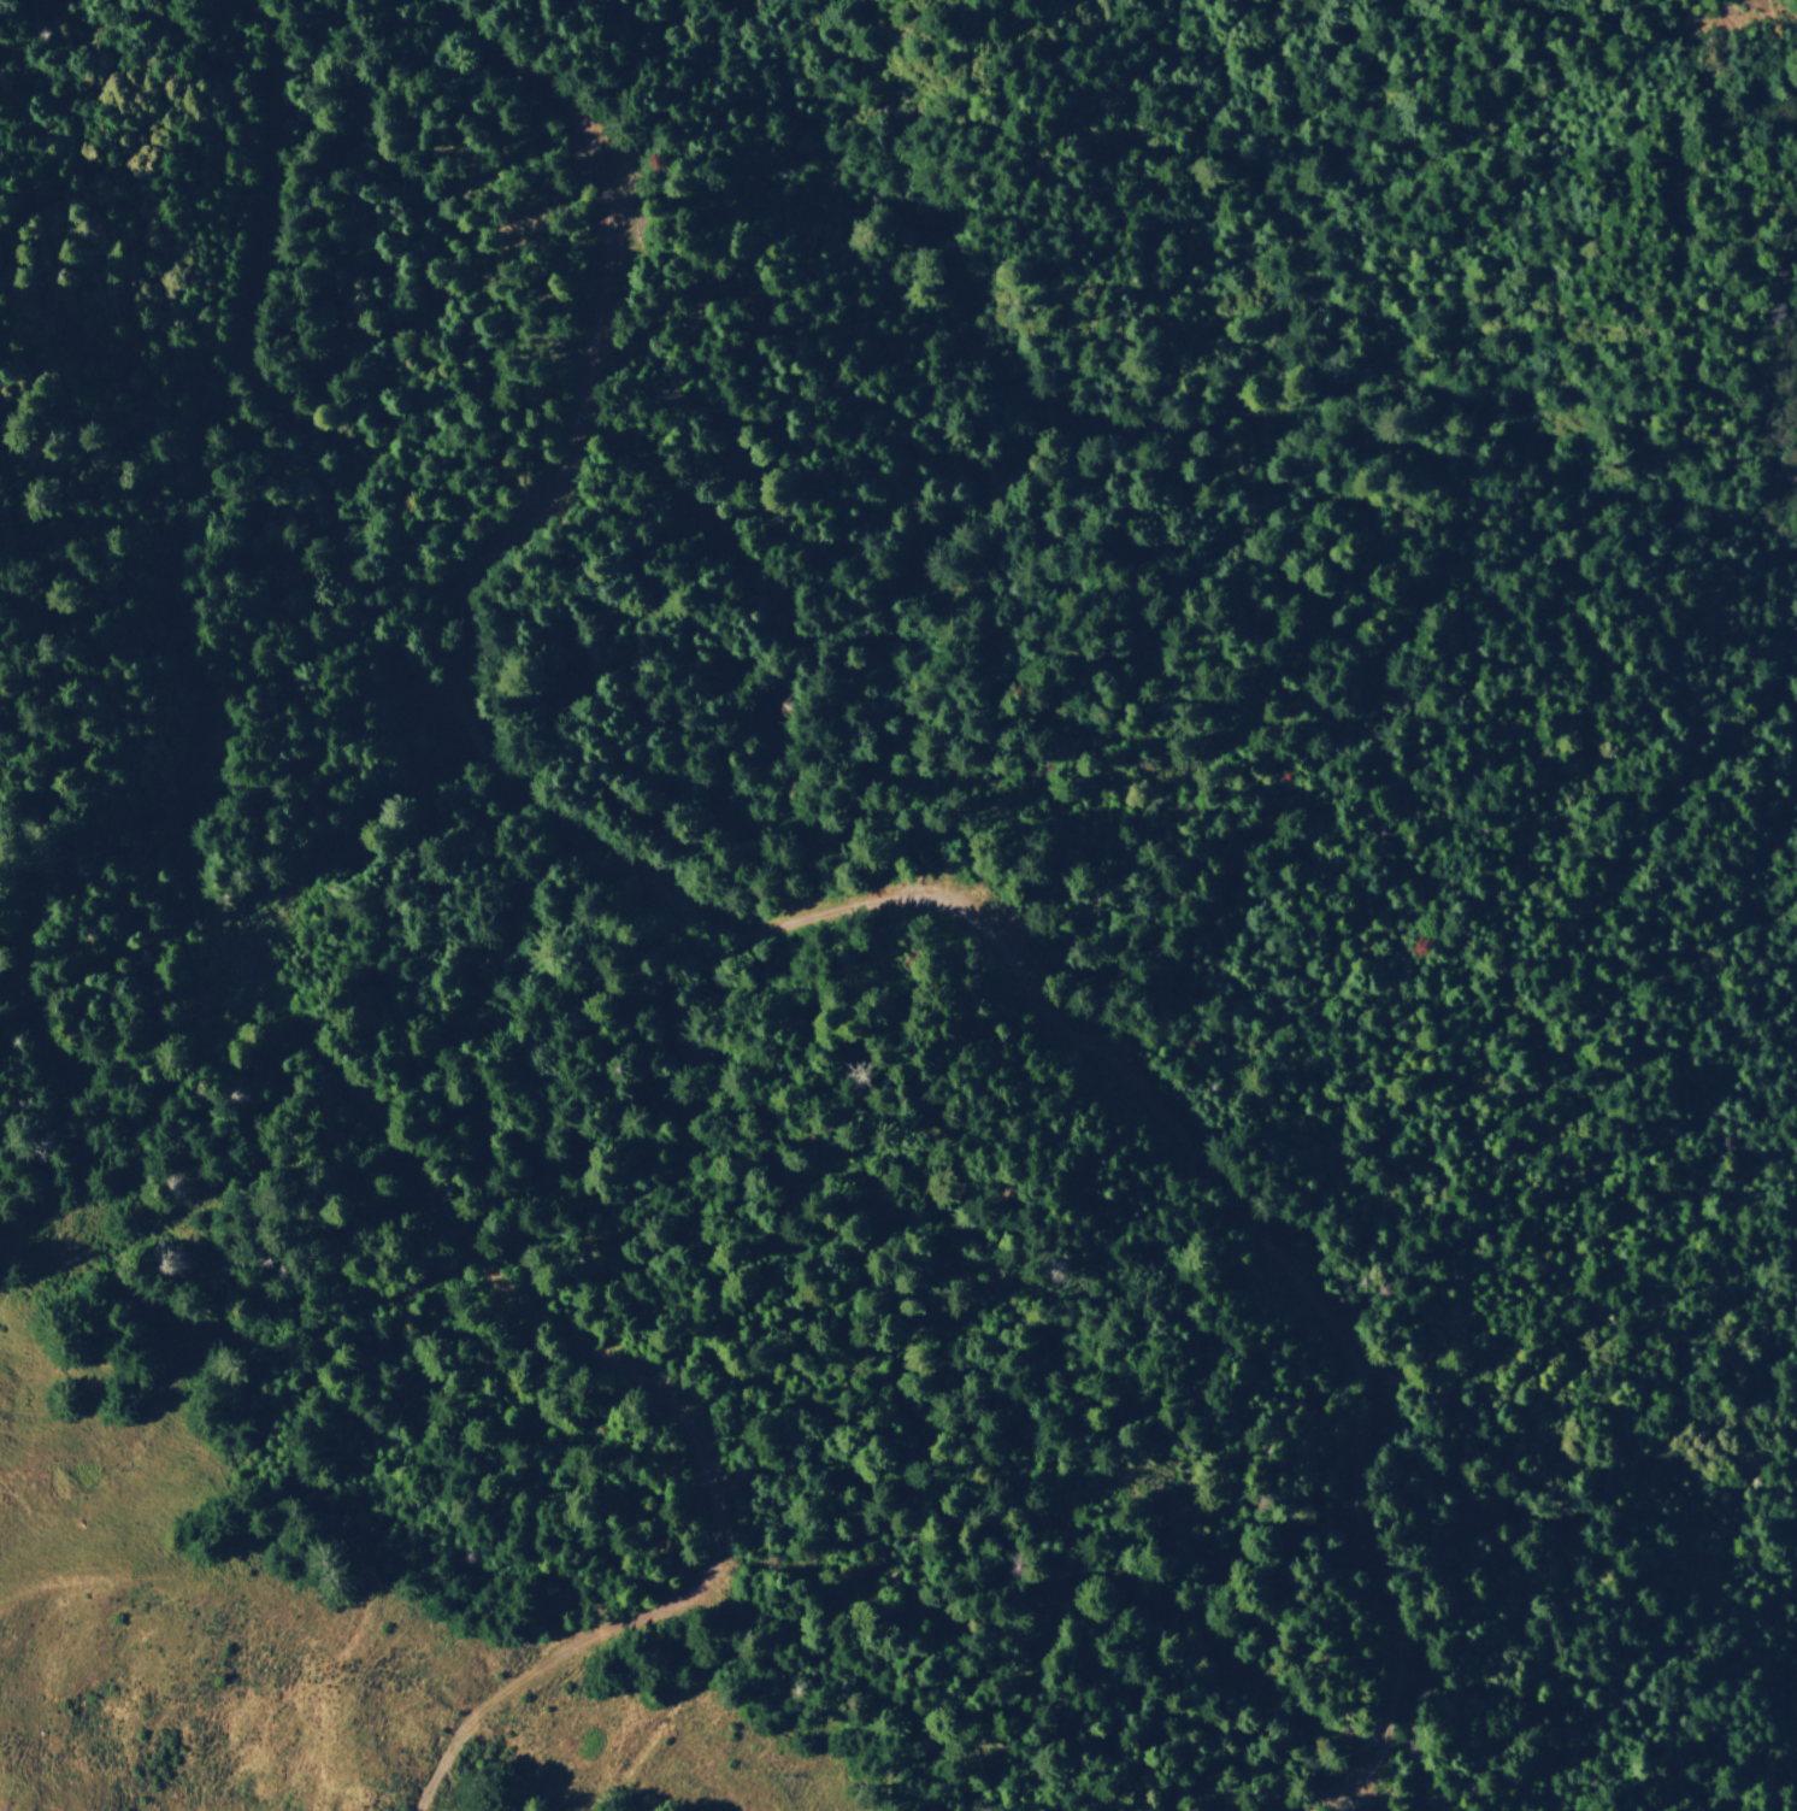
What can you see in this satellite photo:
road: (284, 1031)

